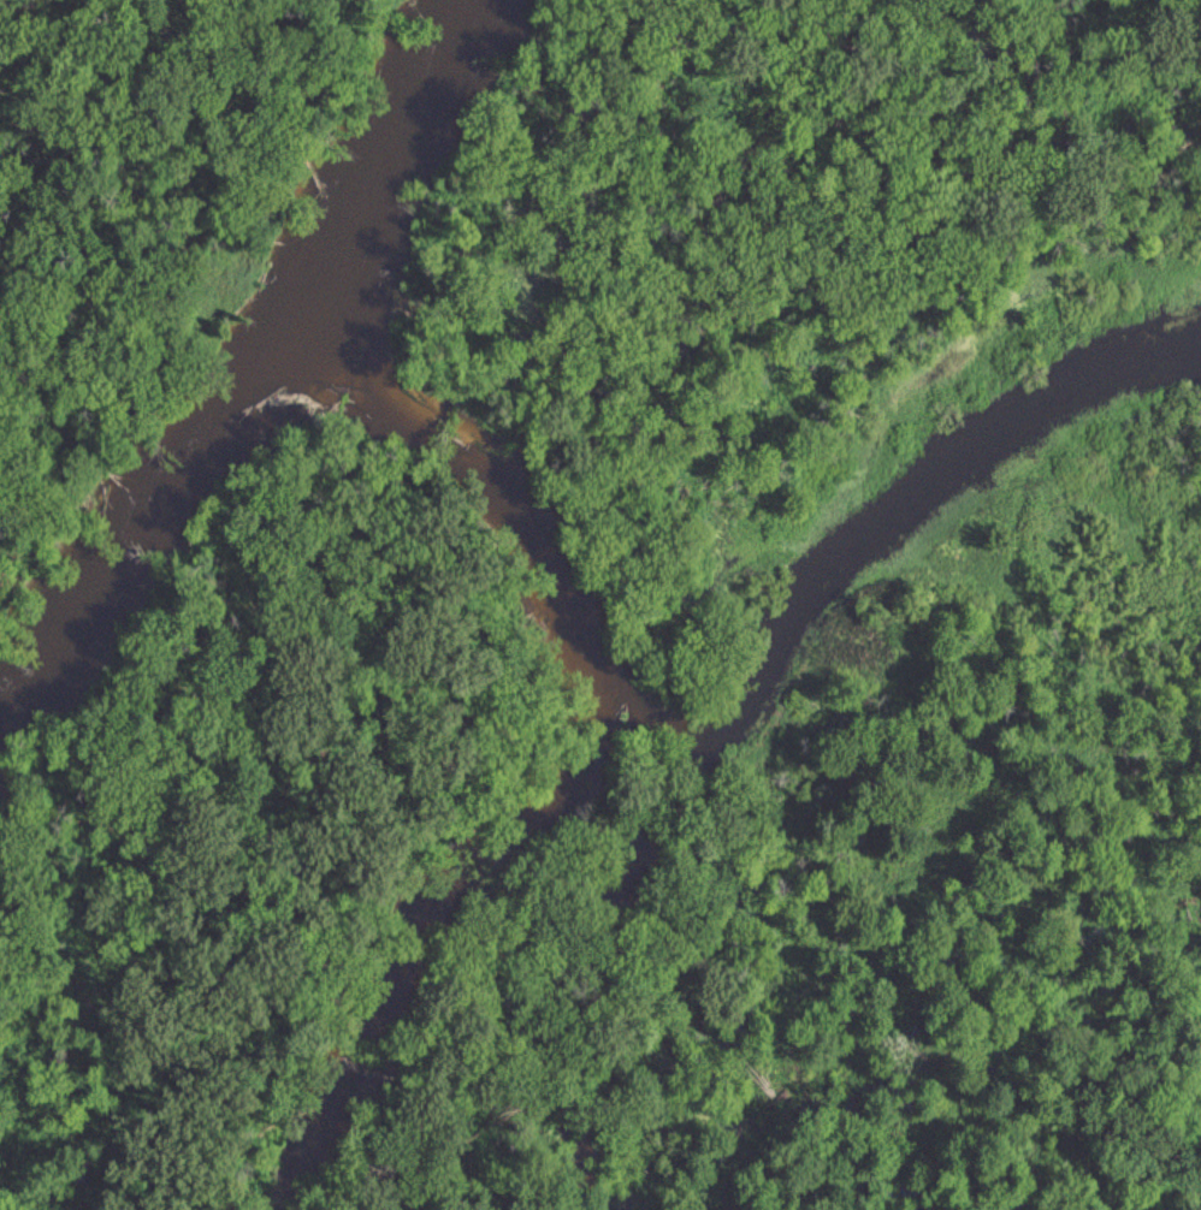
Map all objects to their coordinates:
river: (270, 379)

